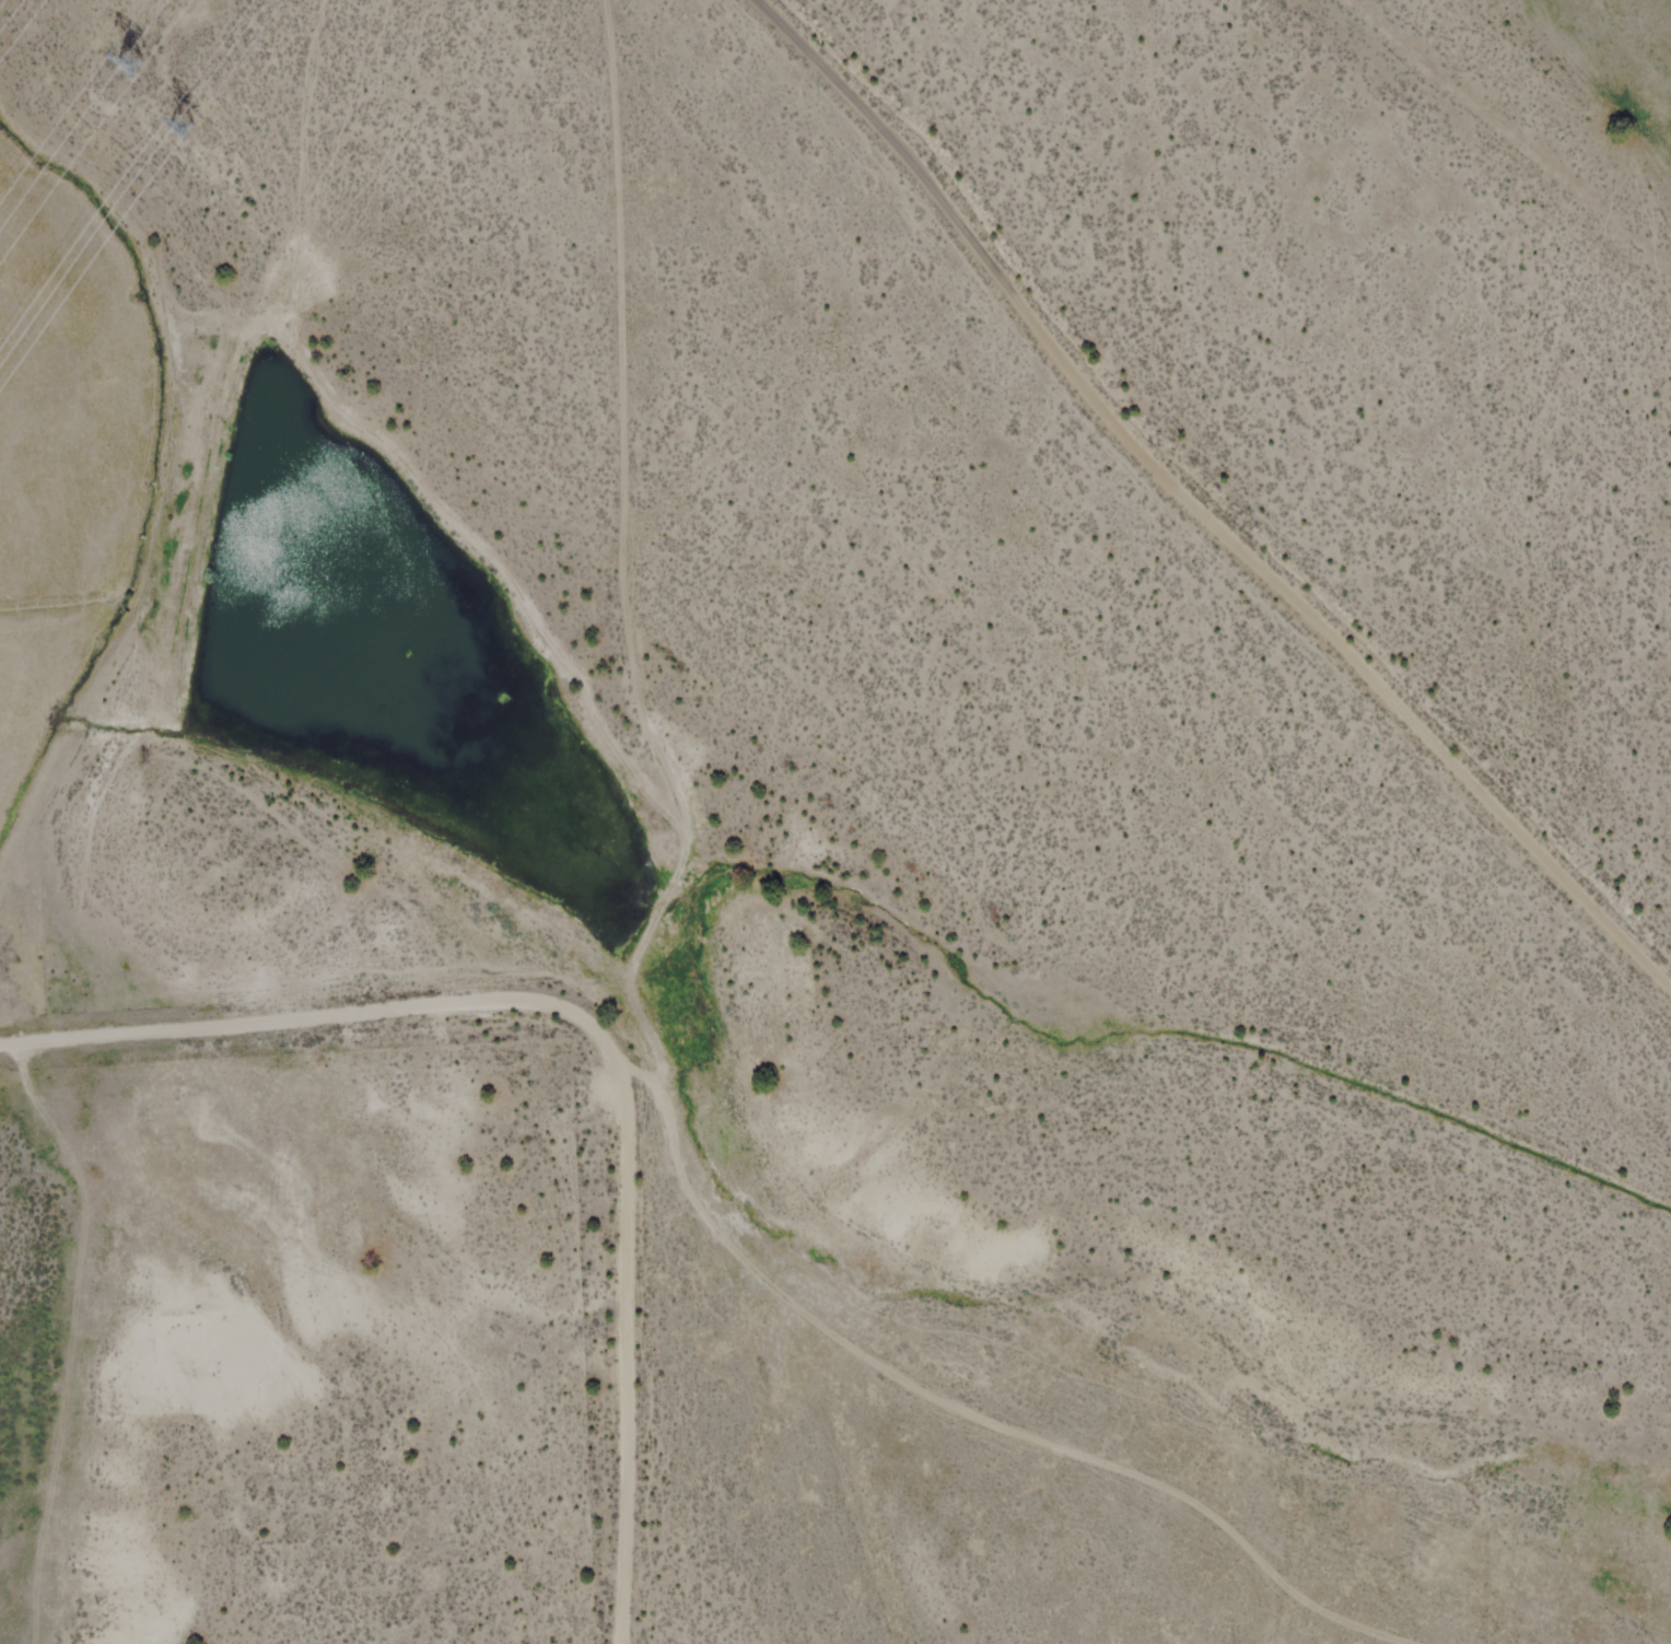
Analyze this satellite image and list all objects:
power tower: (105, 78)
power tower: (174, 129)
dam: (185, 547)
road: (600, 1035)
road: (994, 1390)

